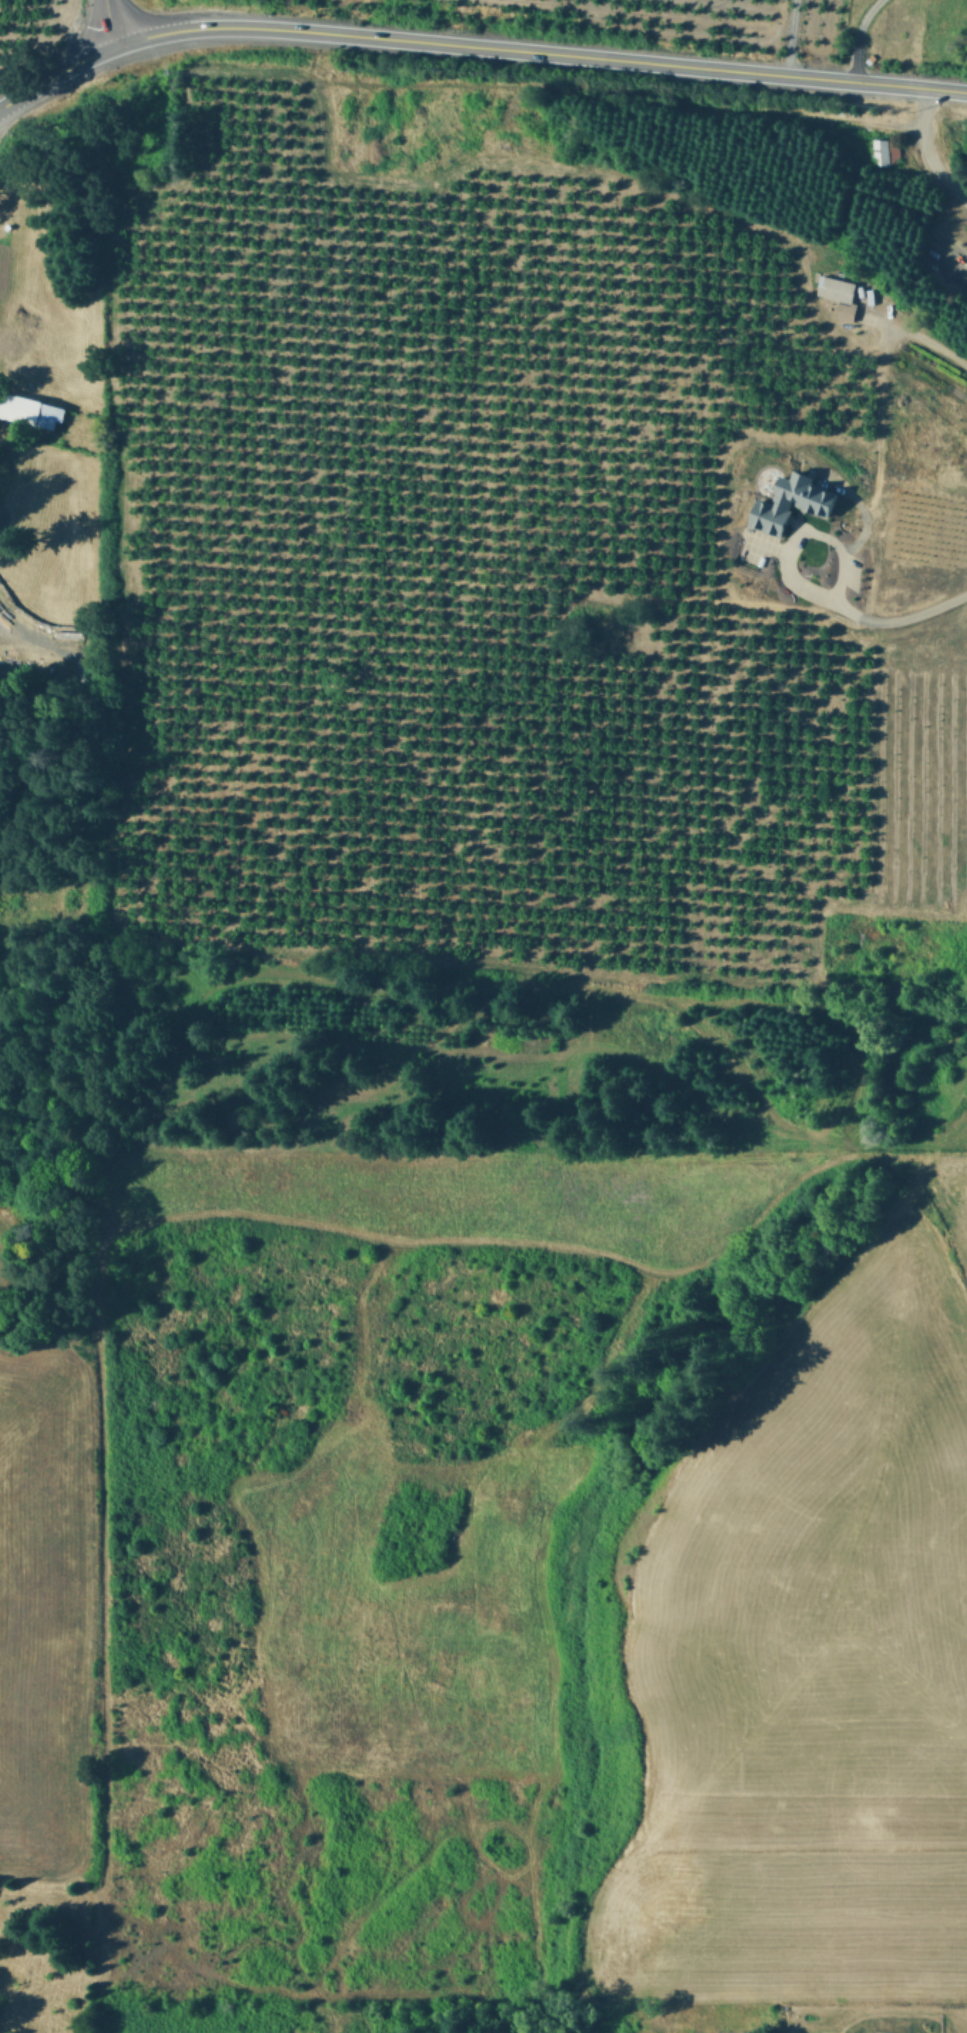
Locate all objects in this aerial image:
road: (108, 22)
crop: (943, 33)
road: (852, 36)
road: (783, 37)
road: (539, 52)
road: (55, 74)
building: (886, 151)
road: (922, 156)
building: (841, 295)
road: (927, 340)
building: (31, 410)
building: (795, 501)
road: (801, 532)
road: (901, 622)
road: (723, 1248)
crop: (493, 1571)

